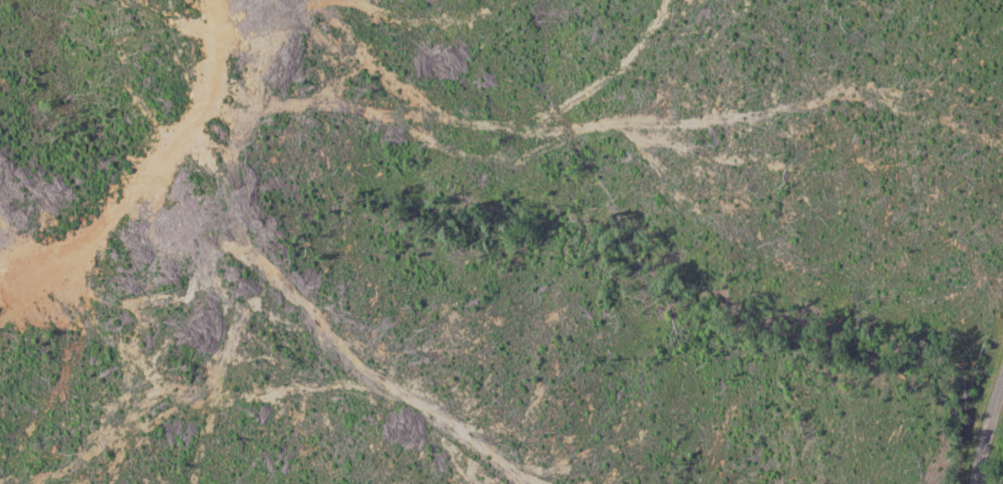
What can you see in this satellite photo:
road: (984, 430)

